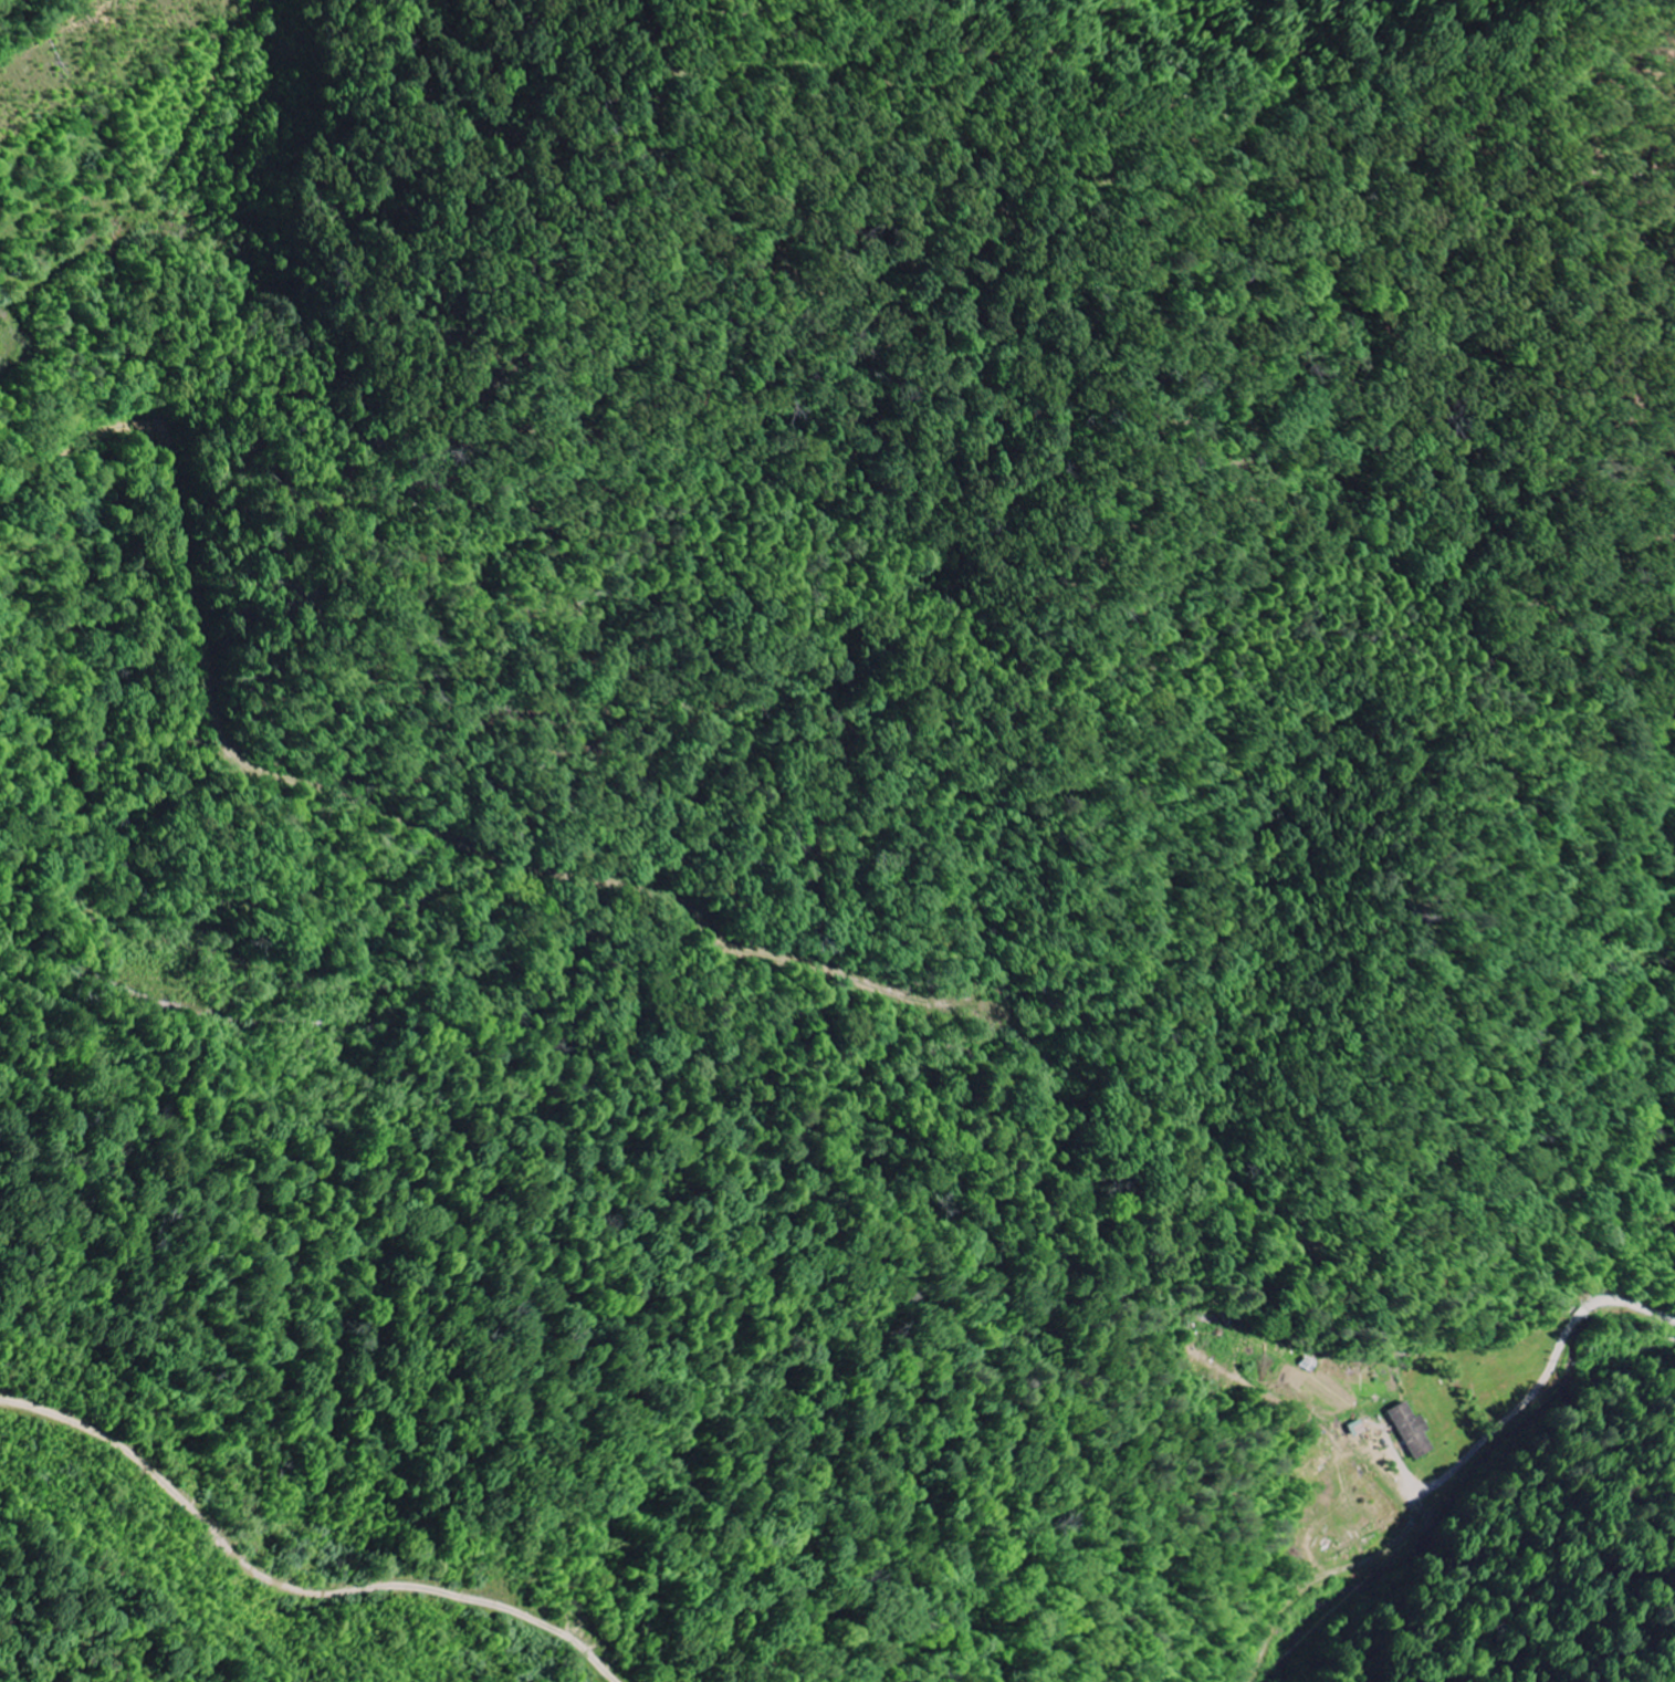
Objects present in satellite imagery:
building: (1407, 1430)
road: (1456, 1471)

